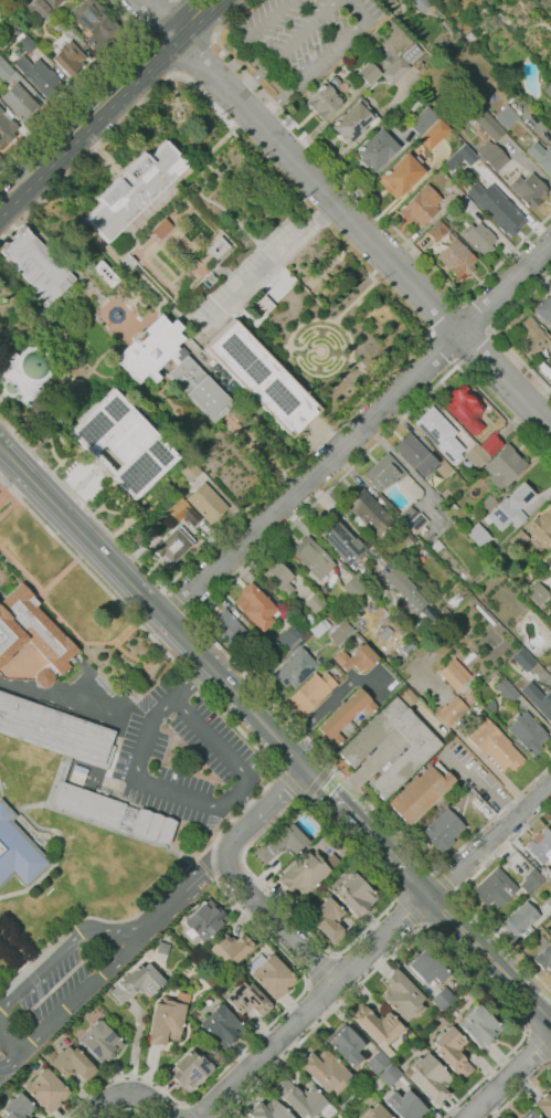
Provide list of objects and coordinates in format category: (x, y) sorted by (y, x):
building: (383, 1)
building: (53, 3)
building: (393, 3)
building: (420, 4)
building: (35, 8)
road: (353, 9)
building: (411, 12)
building: (483, 12)
road: (150, 14)
road: (156, 17)
building: (95, 23)
road: (255, 32)
parking lot: (304, 38)
building: (25, 43)
building: (40, 44)
road: (284, 49)
building: (67, 57)
road: (197, 57)
building: (401, 64)
road: (307, 68)
building: (4, 70)
building: (369, 72)
building: (40, 76)
road: (276, 77)
road: (82, 81)
building: (548, 89)
road: (104, 101)
building: (19, 102)
building: (322, 102)
building: (413, 104)
road: (216, 115)
building: (506, 117)
building: (483, 118)
building: (423, 120)
building: (353, 122)
building: (6, 126)
building: (434, 134)
building: (377, 149)
building: (492, 155)
building: (541, 157)
building: (459, 158)
building: (401, 175)
building: (135, 189)
building: (530, 190)
road: (363, 193)
building: (467, 203)
building: (421, 207)
building: (497, 208)
building: (161, 228)
building: (437, 230)
road: (360, 232)
building: (447, 236)
building: (480, 238)
building: (223, 247)
building: (456, 257)
building: (35, 265)
road: (268, 266)
building: (106, 273)
parking lot: (255, 275)
building: (182, 281)
road: (353, 300)
building: (544, 309)
road: (478, 314)
road: (446, 315)
fountain: (116, 316)
road: (304, 321)
road: (495, 331)
road: (427, 333)
building: (531, 336)
park: (184, 337)
road: (475, 347)
road: (443, 348)
road: (326, 352)
building: (550, 365)
building: (138, 367)
building: (24, 375)
building: (262, 378)
building: (462, 403)
road: (358, 431)
building: (439, 434)
building: (506, 440)
building: (124, 443)
building: (491, 445)
building: (415, 454)
building: (476, 454)
road: (295, 462)
building: (504, 466)
building: (444, 470)
building: (189, 471)
building: (383, 472)
road: (4, 494)
building: (437, 499)
building: (206, 503)
building: (487, 503)
road: (81, 505)
building: (449, 507)
building: (510, 508)
building: (184, 511)
building: (368, 513)
building: (414, 519)
building: (541, 526)
building: (148, 532)
road: (83, 535)
building: (478, 536)
building: (519, 539)
building: (340, 541)
building: (437, 545)
building: (173, 546)
building: (550, 547)
building: (312, 558)
road: (60, 574)
building: (463, 574)
building: (279, 577)
building: (394, 577)
building: (356, 586)
building: (538, 594)
building: (311, 603)
road: (179, 604)
building: (255, 607)
building: (543, 611)
building: (445, 612)
building: (431, 614)
building: (485, 615)
building: (331, 616)
road: (197, 621)
road: (57, 622)
building: (227, 626)
building: (319, 626)
building: (340, 632)
building: (290, 634)
road: (126, 635)
building: (30, 641)
building: (374, 645)
building: (272, 653)
building: (469, 657)
building: (356, 658)
building: (523, 660)
building: (296, 664)
building: (549, 668)
building: (454, 674)
road: (142, 681)
road: (194, 685)
building: (507, 689)
building: (311, 693)
road: (235, 695)
road: (78, 697)
road: (332, 699)
building: (539, 699)
building: (490, 707)
building: (451, 711)
building: (343, 715)
building: (54, 728)
building: (528, 732)
building: (417, 736)
building: (492, 745)
parking lot: (190, 761)
road: (330, 766)
road: (276, 770)
building: (77, 774)
road: (59, 778)
road: (316, 782)
road: (290, 783)
road: (235, 791)
building: (421, 792)
building: (52, 793)
road: (305, 799)
road: (120, 800)
road: (303, 800)
building: (88, 803)
road: (244, 808)
road: (353, 820)
building: (550, 821)
building: (152, 826)
road: (198, 829)
building: (442, 830)
road: (135, 835)
road: (215, 840)
road: (490, 841)
building: (279, 843)
building: (540, 845)
building: (20, 848)
road: (64, 856)
building: (304, 873)
building: (547, 874)
road: (239, 879)
building: (530, 882)
building: (494, 888)
building: (356, 894)
road: (457, 897)
building: (549, 903)
road: (409, 909)
building: (519, 918)
building: (204, 919)
building: (328, 919)
road: (418, 929)
road: (477, 945)
road: (11, 948)
road: (59, 948)
building: (231, 948)
building: (147, 951)
building: (544, 957)
road: (112, 959)
building: (205, 959)
building: (426, 967)
road: (321, 971)
road: (29, 973)
building: (271, 974)
parking lot: (62, 982)
building: (137, 982)
road: (38, 990)
building: (402, 995)
building: (442, 999)
building: (247, 1000)
road: (312, 1004)
building: (168, 1017)
building: (221, 1025)
building: (377, 1025)
building: (479, 1026)
building: (100, 1042)
building: (345, 1044)
building: (414, 1044)
road: (539, 1044)
road: (4, 1048)
building: (452, 1052)
building: (50, 1054)
building: (377, 1062)
building: (72, 1064)
building: (193, 1068)
building: (326, 1070)
building: (386, 1076)
building: (428, 1076)
road: (510, 1078)
road: (520, 1089)
building: (46, 1090)
road: (127, 1094)
building: (303, 1100)
building: (404, 1105)
building: (543, 1105)
building: (18, 1107)
road: (128, 1110)
building: (268, 1110)
building: (373, 1112)
building: (528, 1115)

